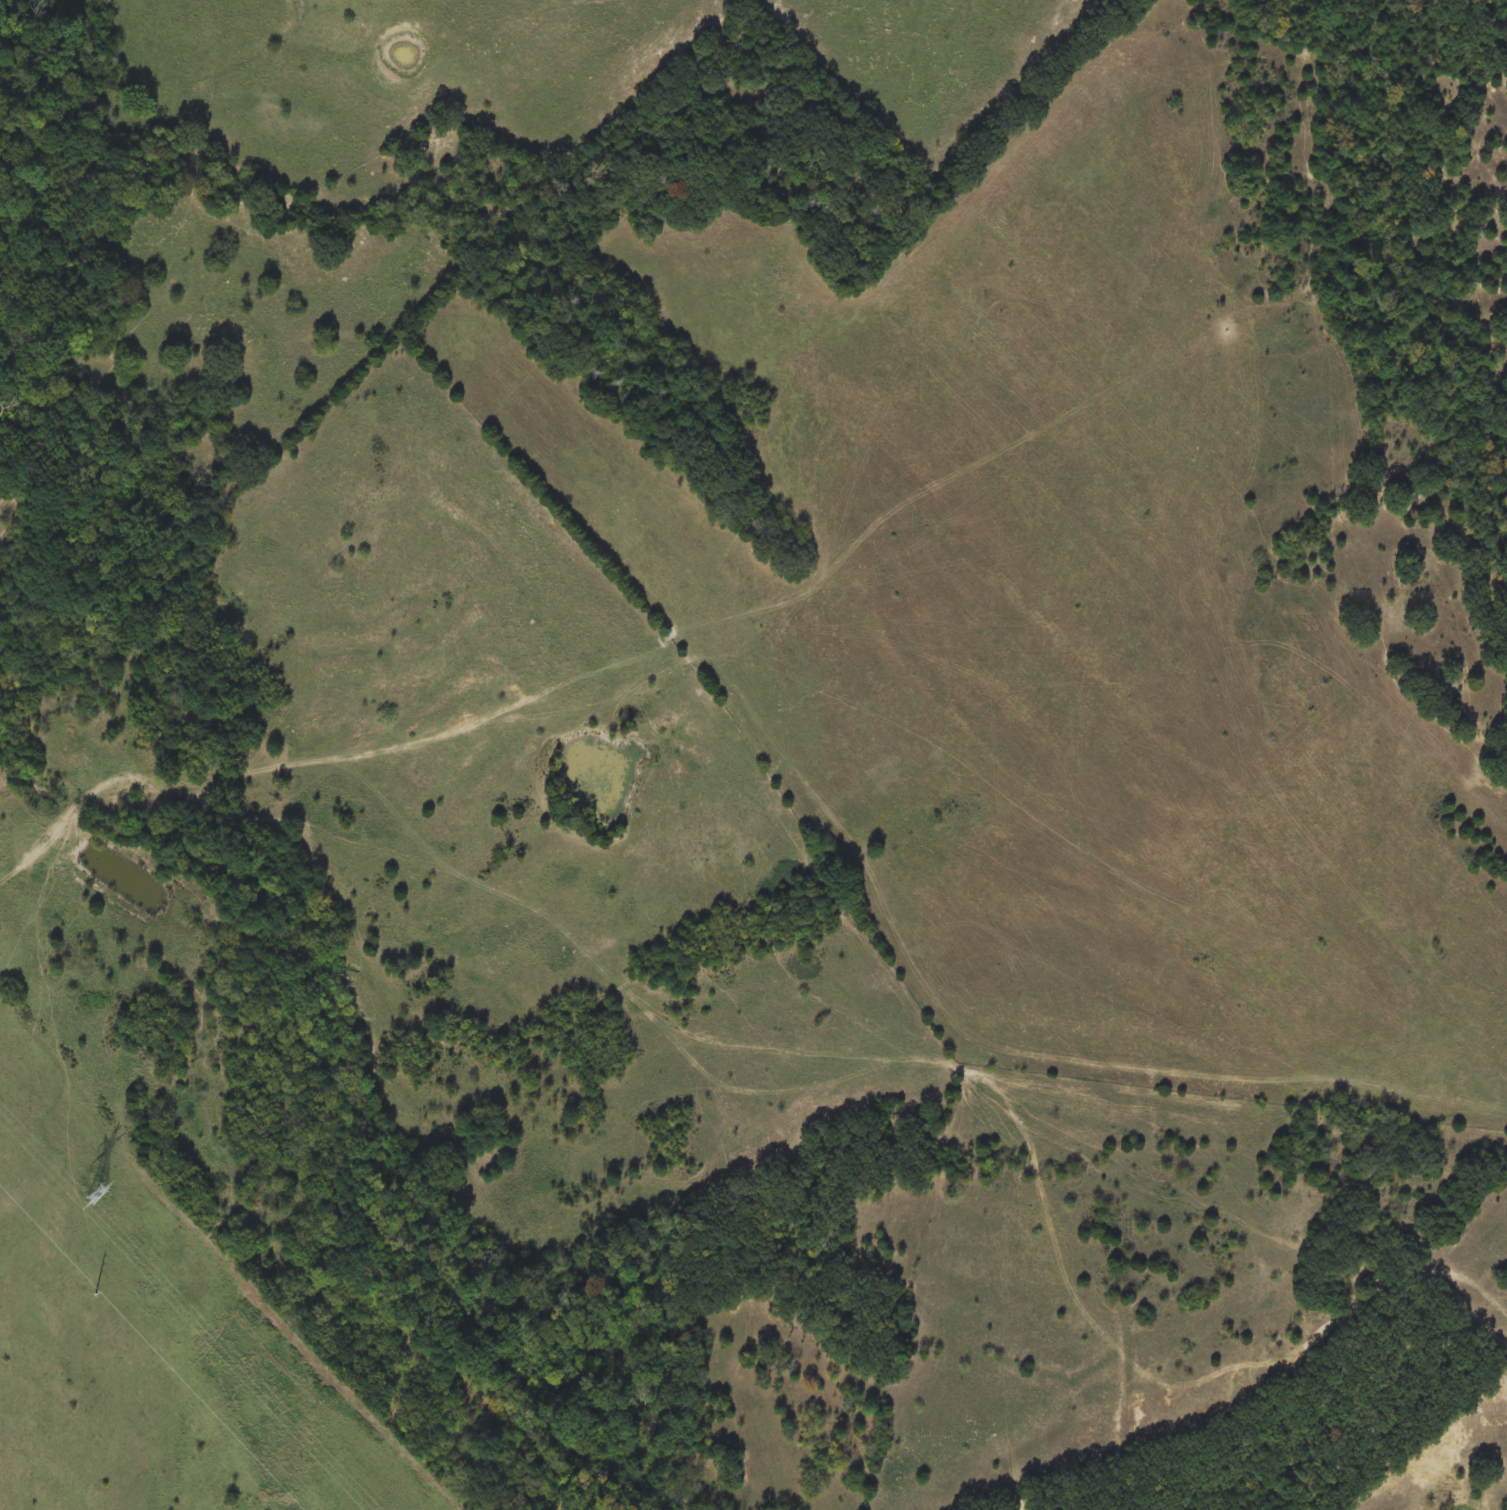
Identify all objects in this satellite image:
power tower: (105, 1193)

